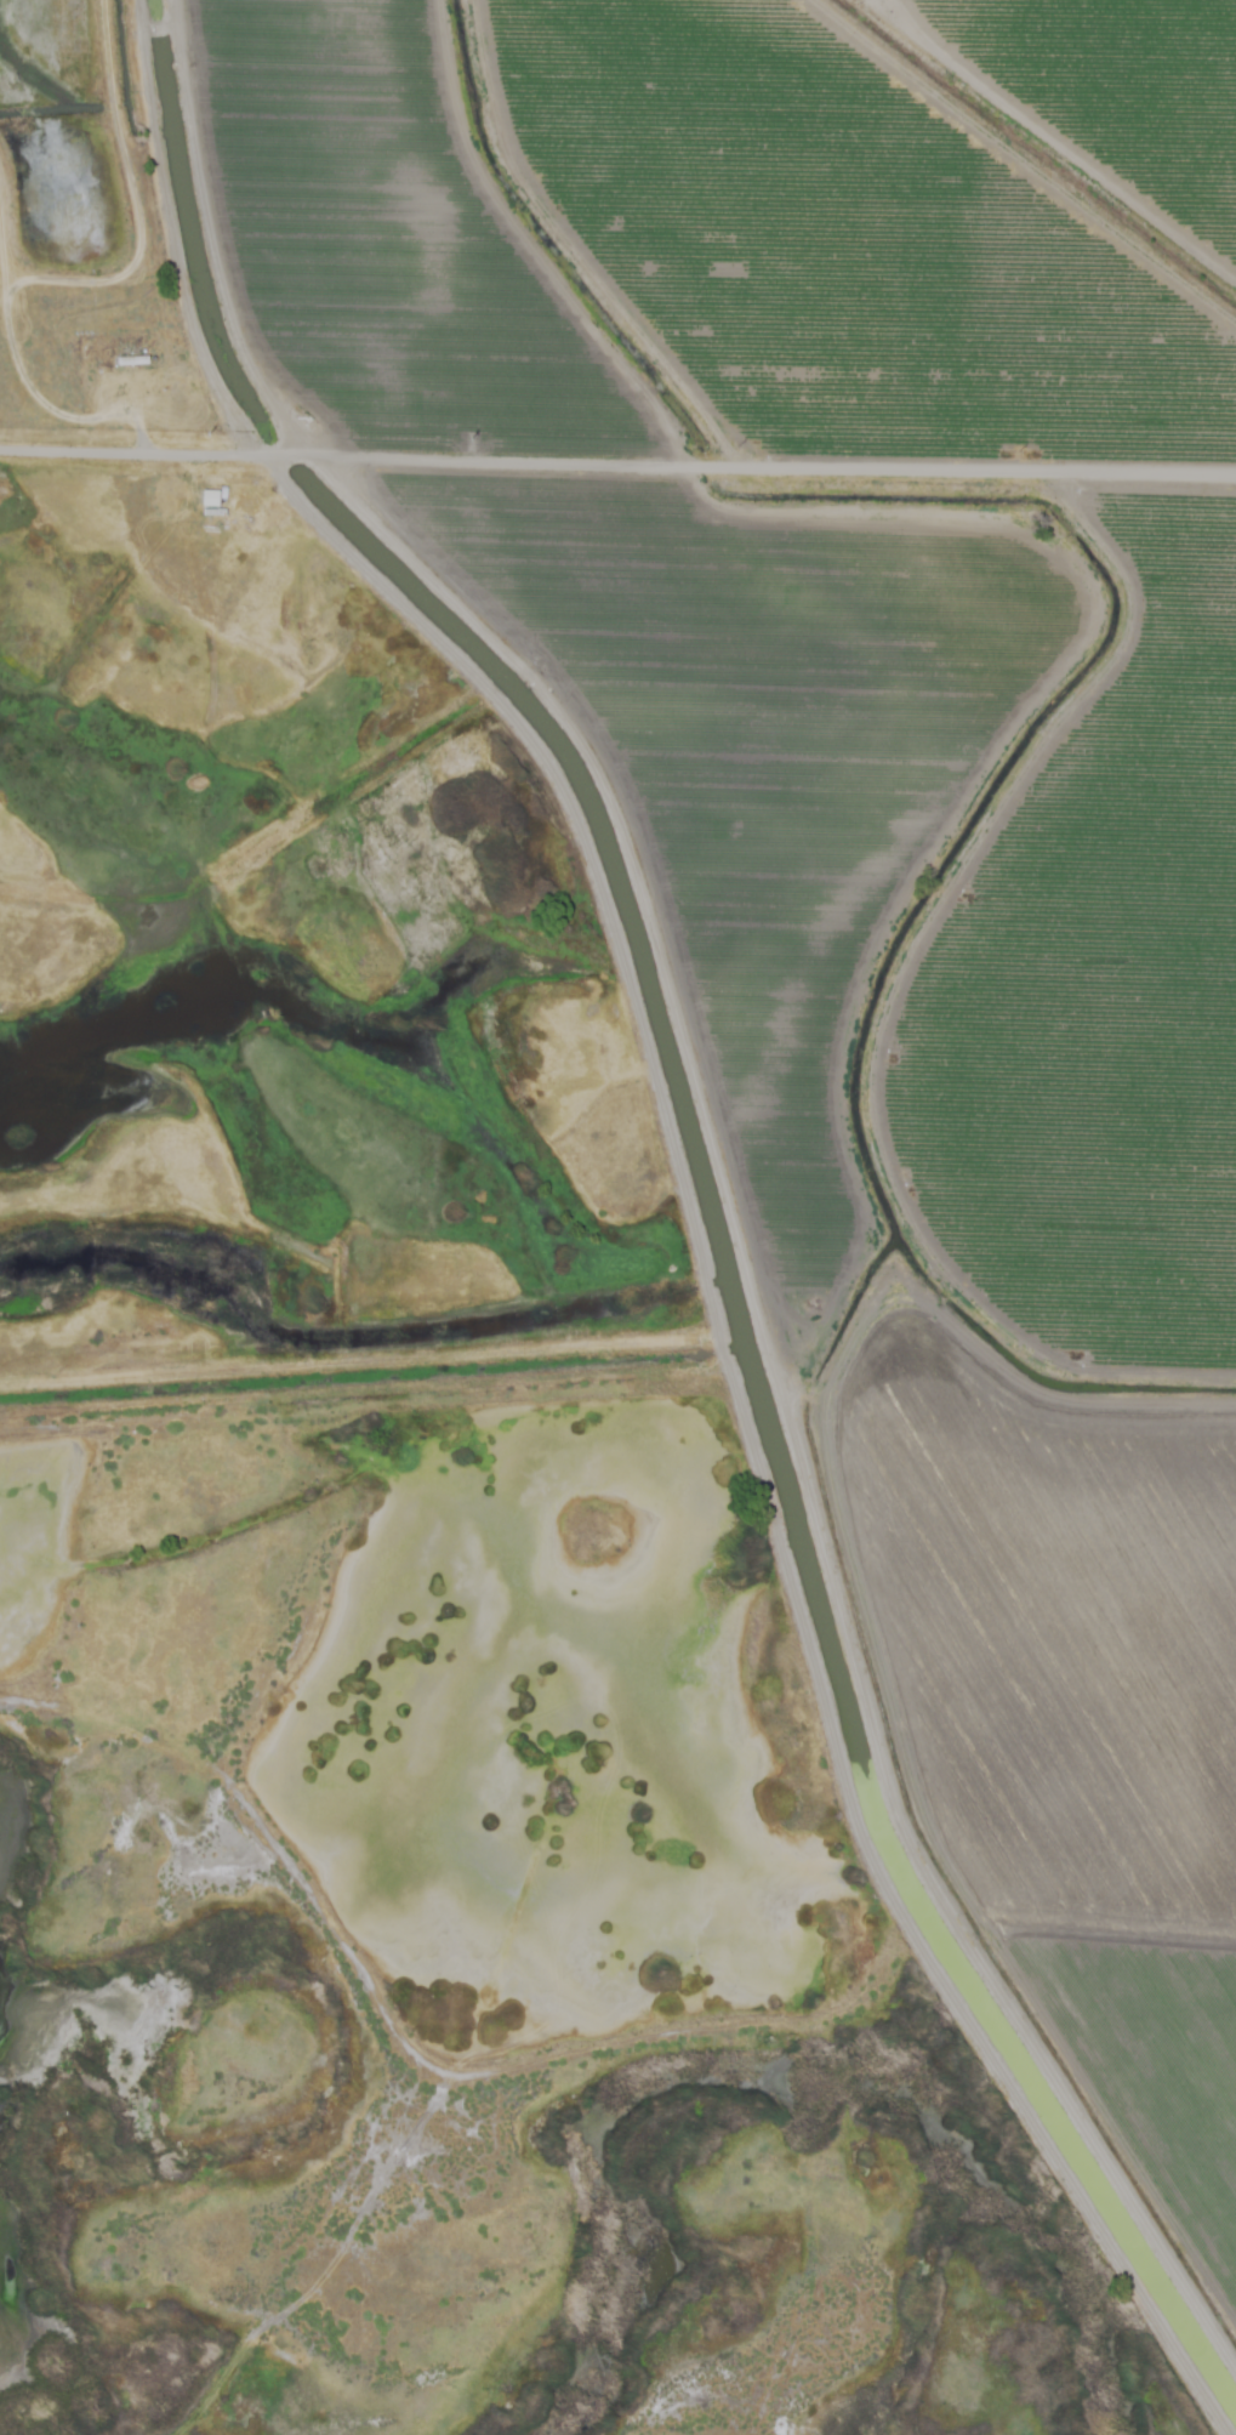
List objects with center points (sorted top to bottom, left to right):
road: (1053, 153)
building: (131, 360)
road: (617, 465)
crop: (885, 802)

